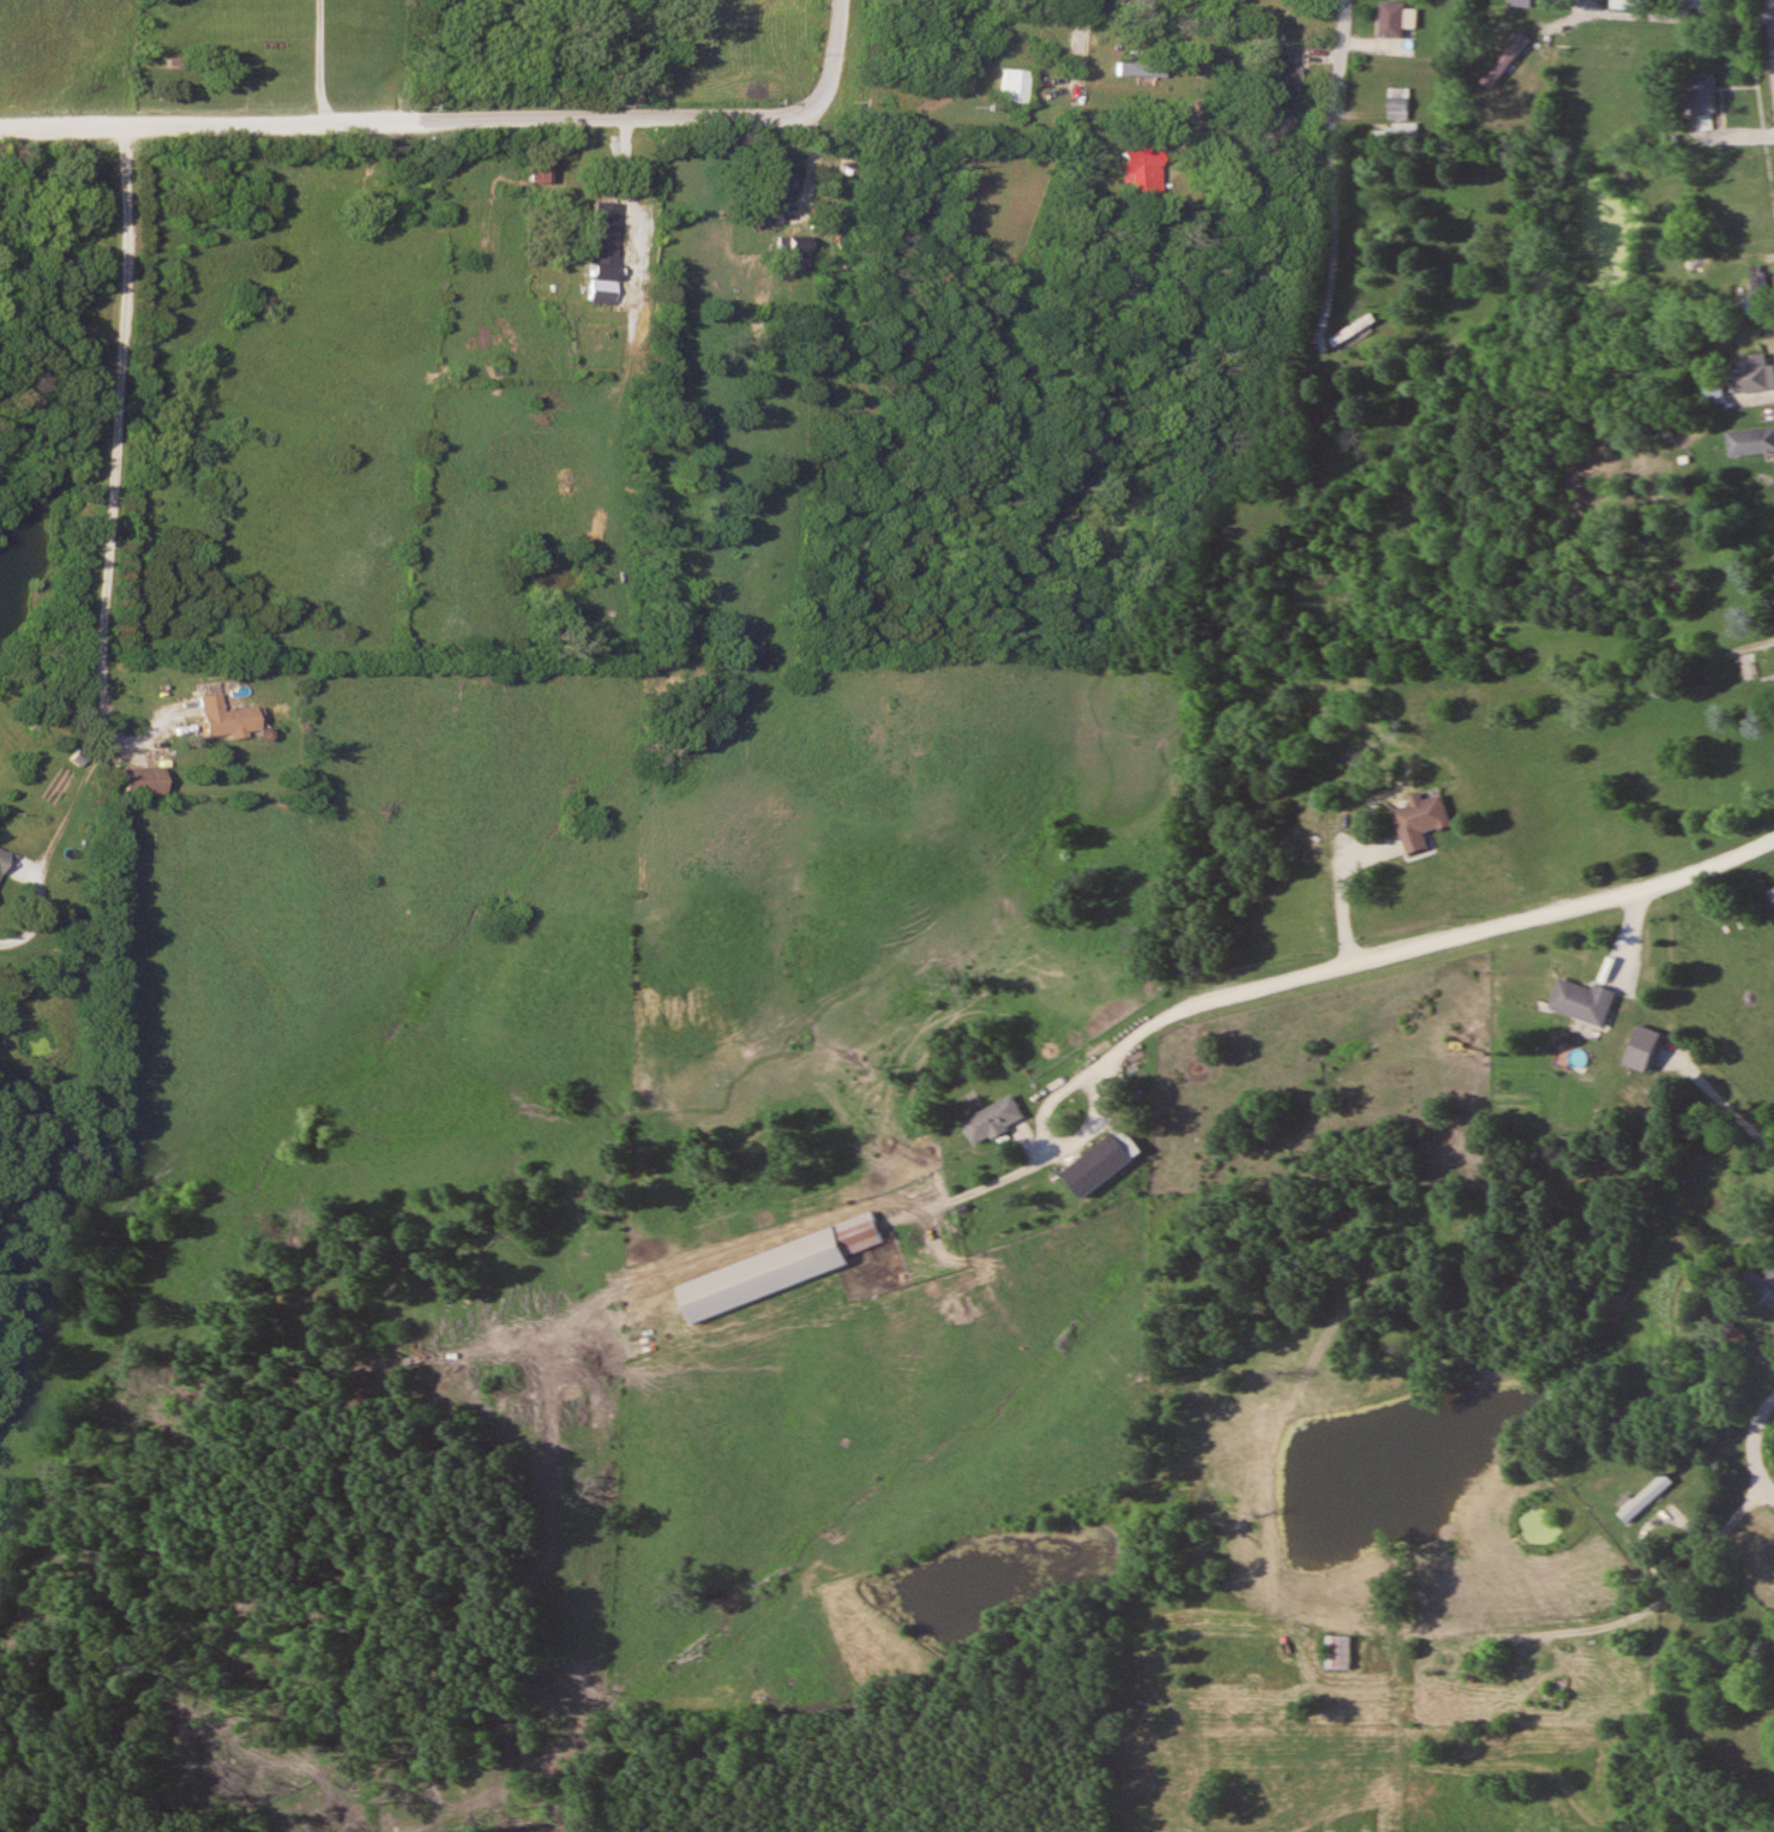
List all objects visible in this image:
building: (1523, 2)
building: (1628, 4)
building: (1307, 6)
building: (1700, 6)
building: (1131, 8)
building: (1395, 18)
road: (1676, 19)
road: (1081, 38)
building: (1504, 59)
road: (829, 64)
building: (1273, 70)
road: (1340, 72)
building: (1006, 85)
building: (1703, 92)
building: (1399, 102)
road: (397, 124)
building: (1396, 131)
building: (534, 170)
building: (1133, 170)
building: (769, 179)
building: (1737, 197)
building: (759, 214)
building: (1740, 222)
building: (596, 238)
building: (786, 248)
building: (601, 290)
building: (1752, 290)
building: (1353, 331)
building: (1751, 373)
building: (1712, 394)
building: (1750, 440)
road: (112, 557)
building: (1770, 605)
building: (216, 719)
building: (132, 781)
building: (1420, 821)
building: (1772, 893)
road: (1415, 944)
building: (1583, 1001)
building: (992, 1118)
building: (1098, 1163)
building: (774, 1267)
building: (1766, 1280)
building: (1708, 1435)
road: (1767, 1489)
road: (1700, 1560)
building: (1336, 1651)

